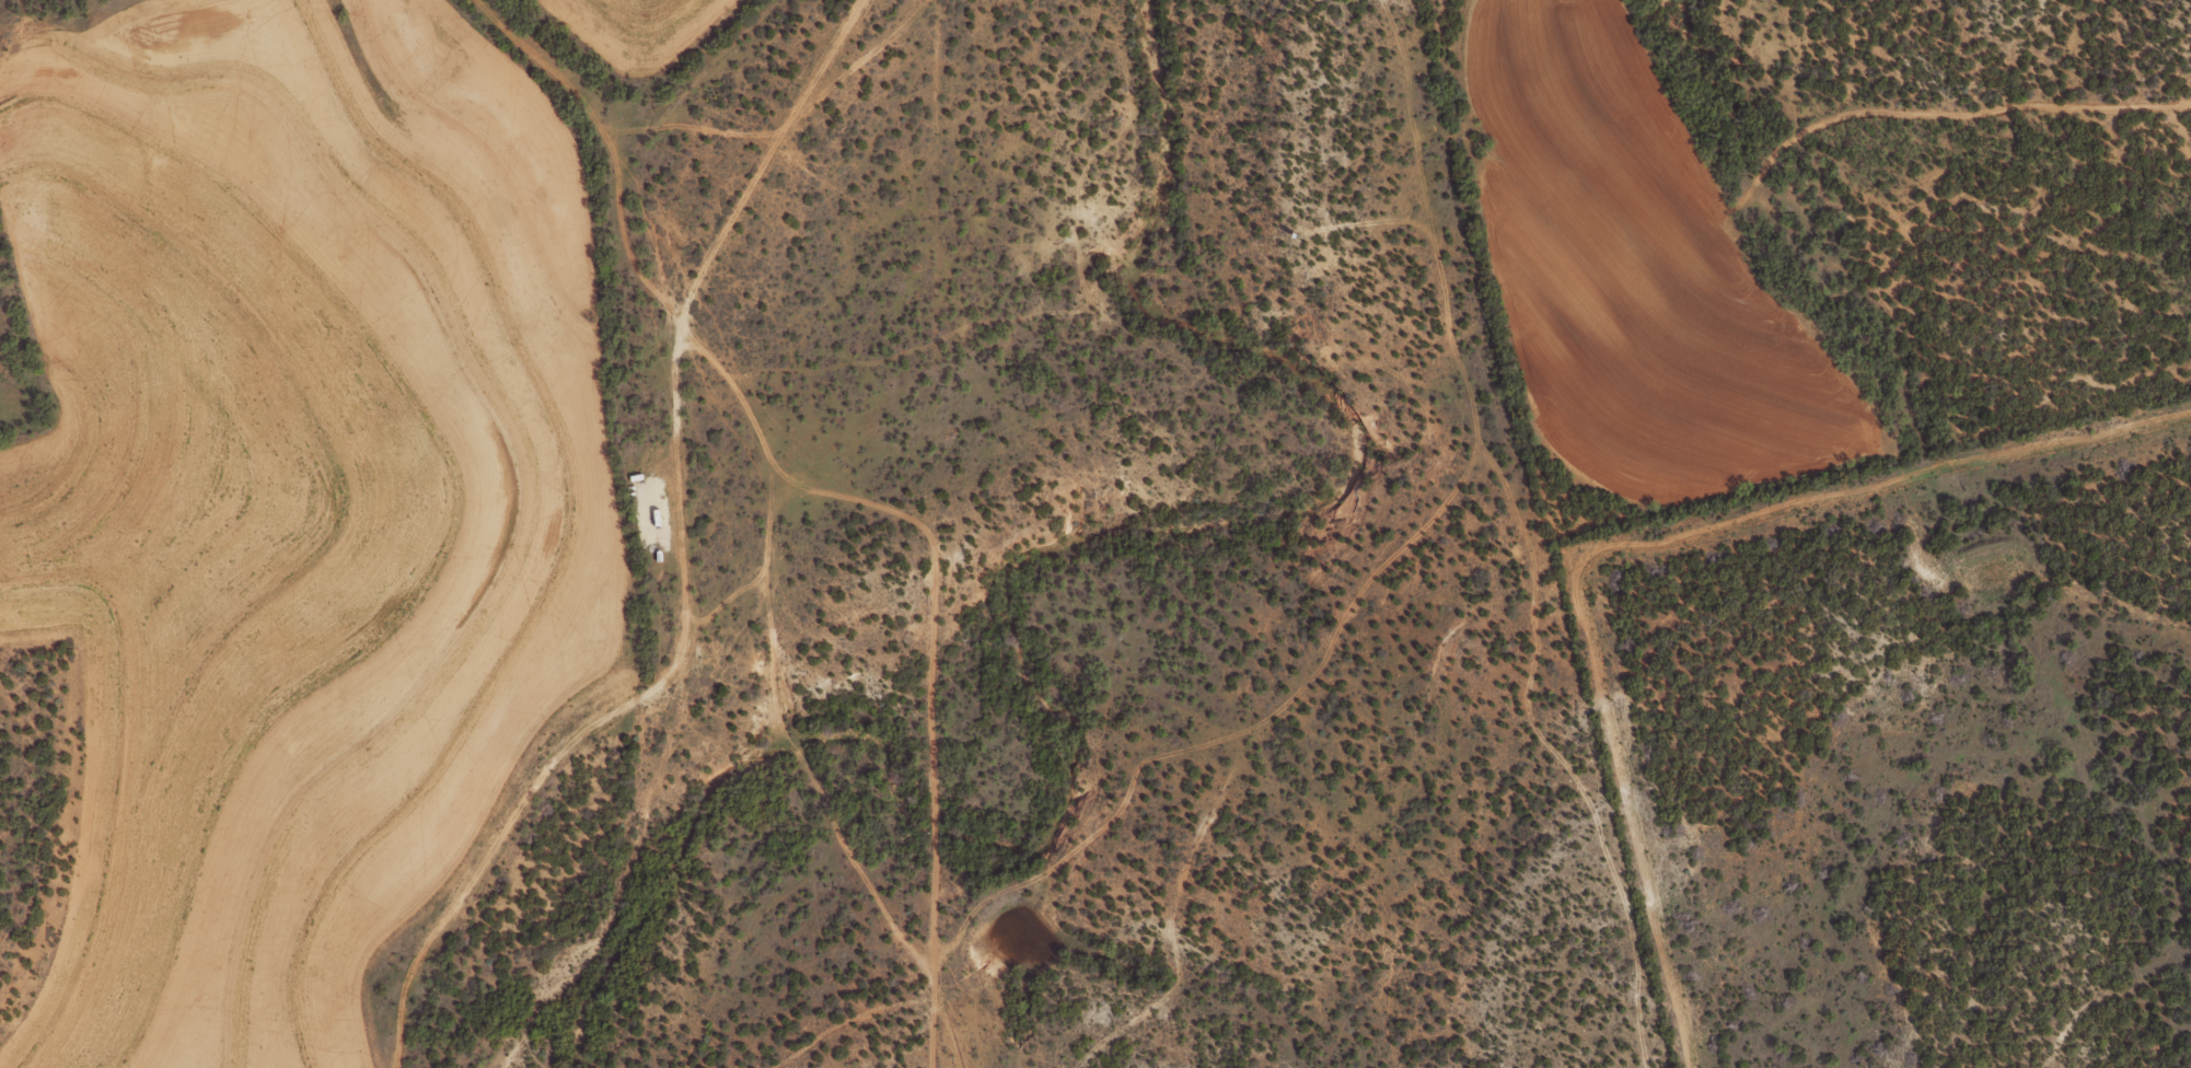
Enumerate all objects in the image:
road: (742, 513)
road: (2117, 967)

